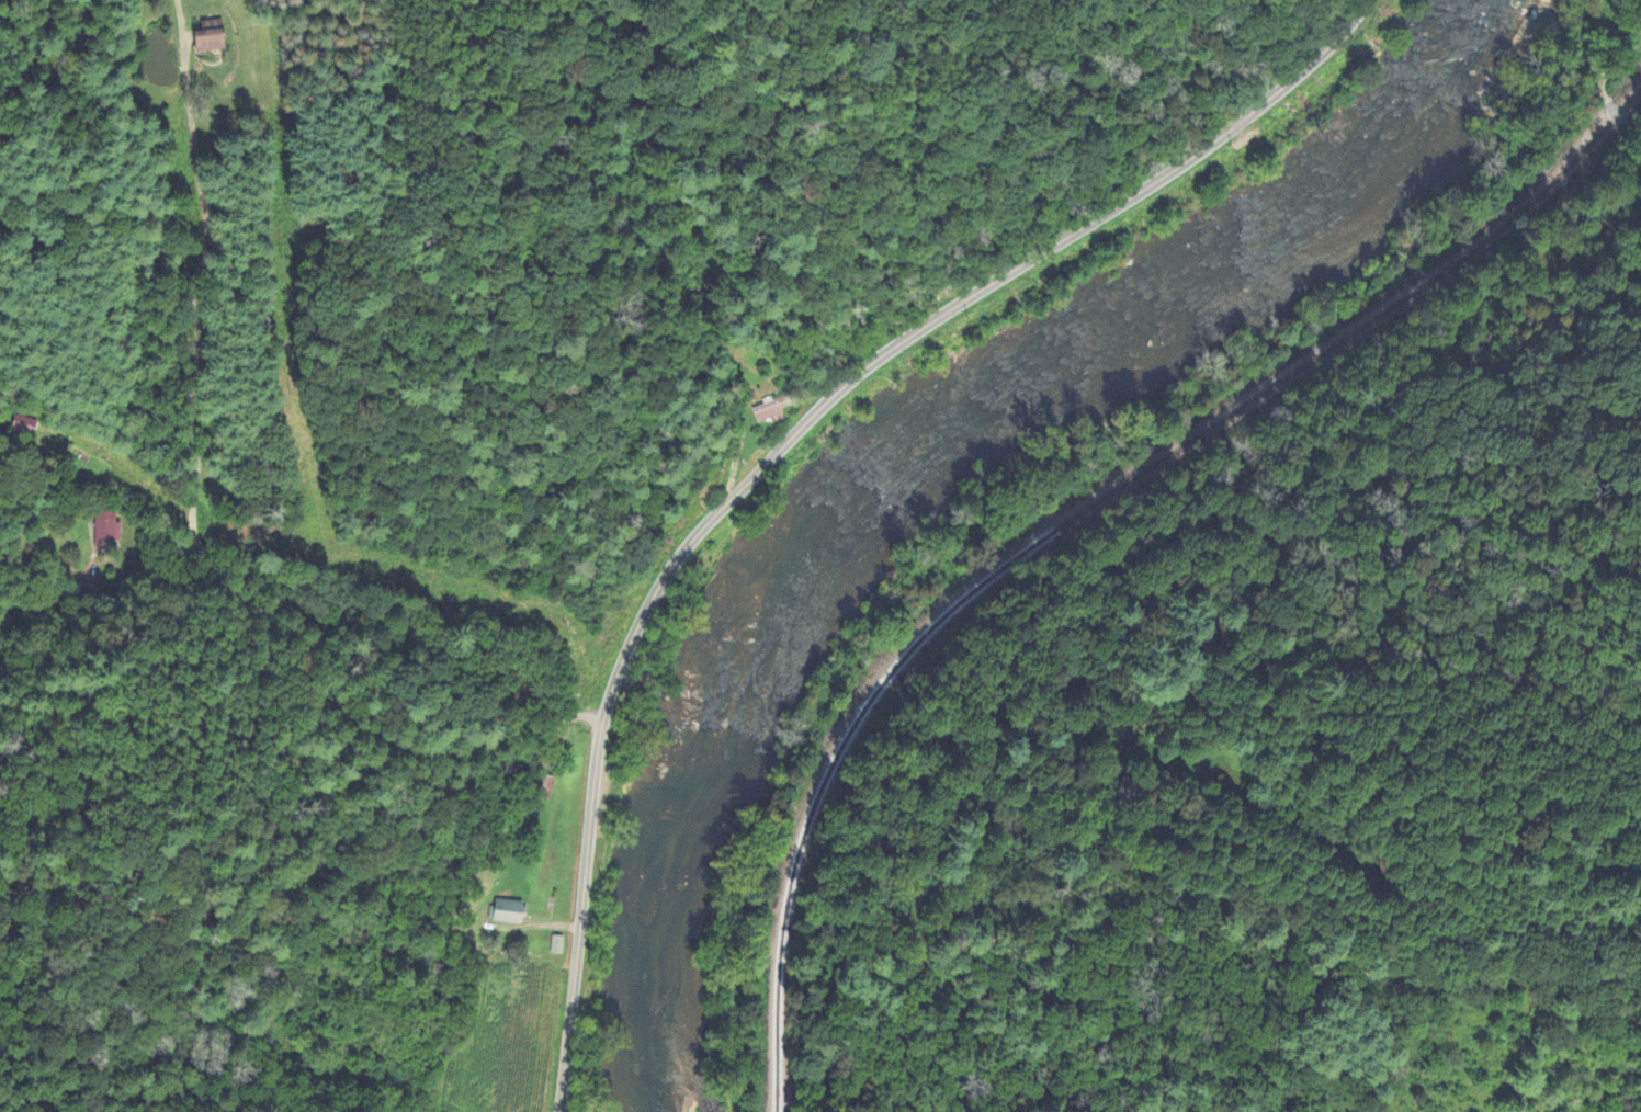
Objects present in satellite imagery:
building: (212, 35)
road: (181, 89)
road: (1615, 112)
road: (1485, 332)
building: (769, 410)
building: (24, 424)
road: (786, 442)
river: (899, 468)
railway: (1077, 515)
building: (109, 527)
road: (250, 606)
building: (510, 911)
building: (558, 945)

